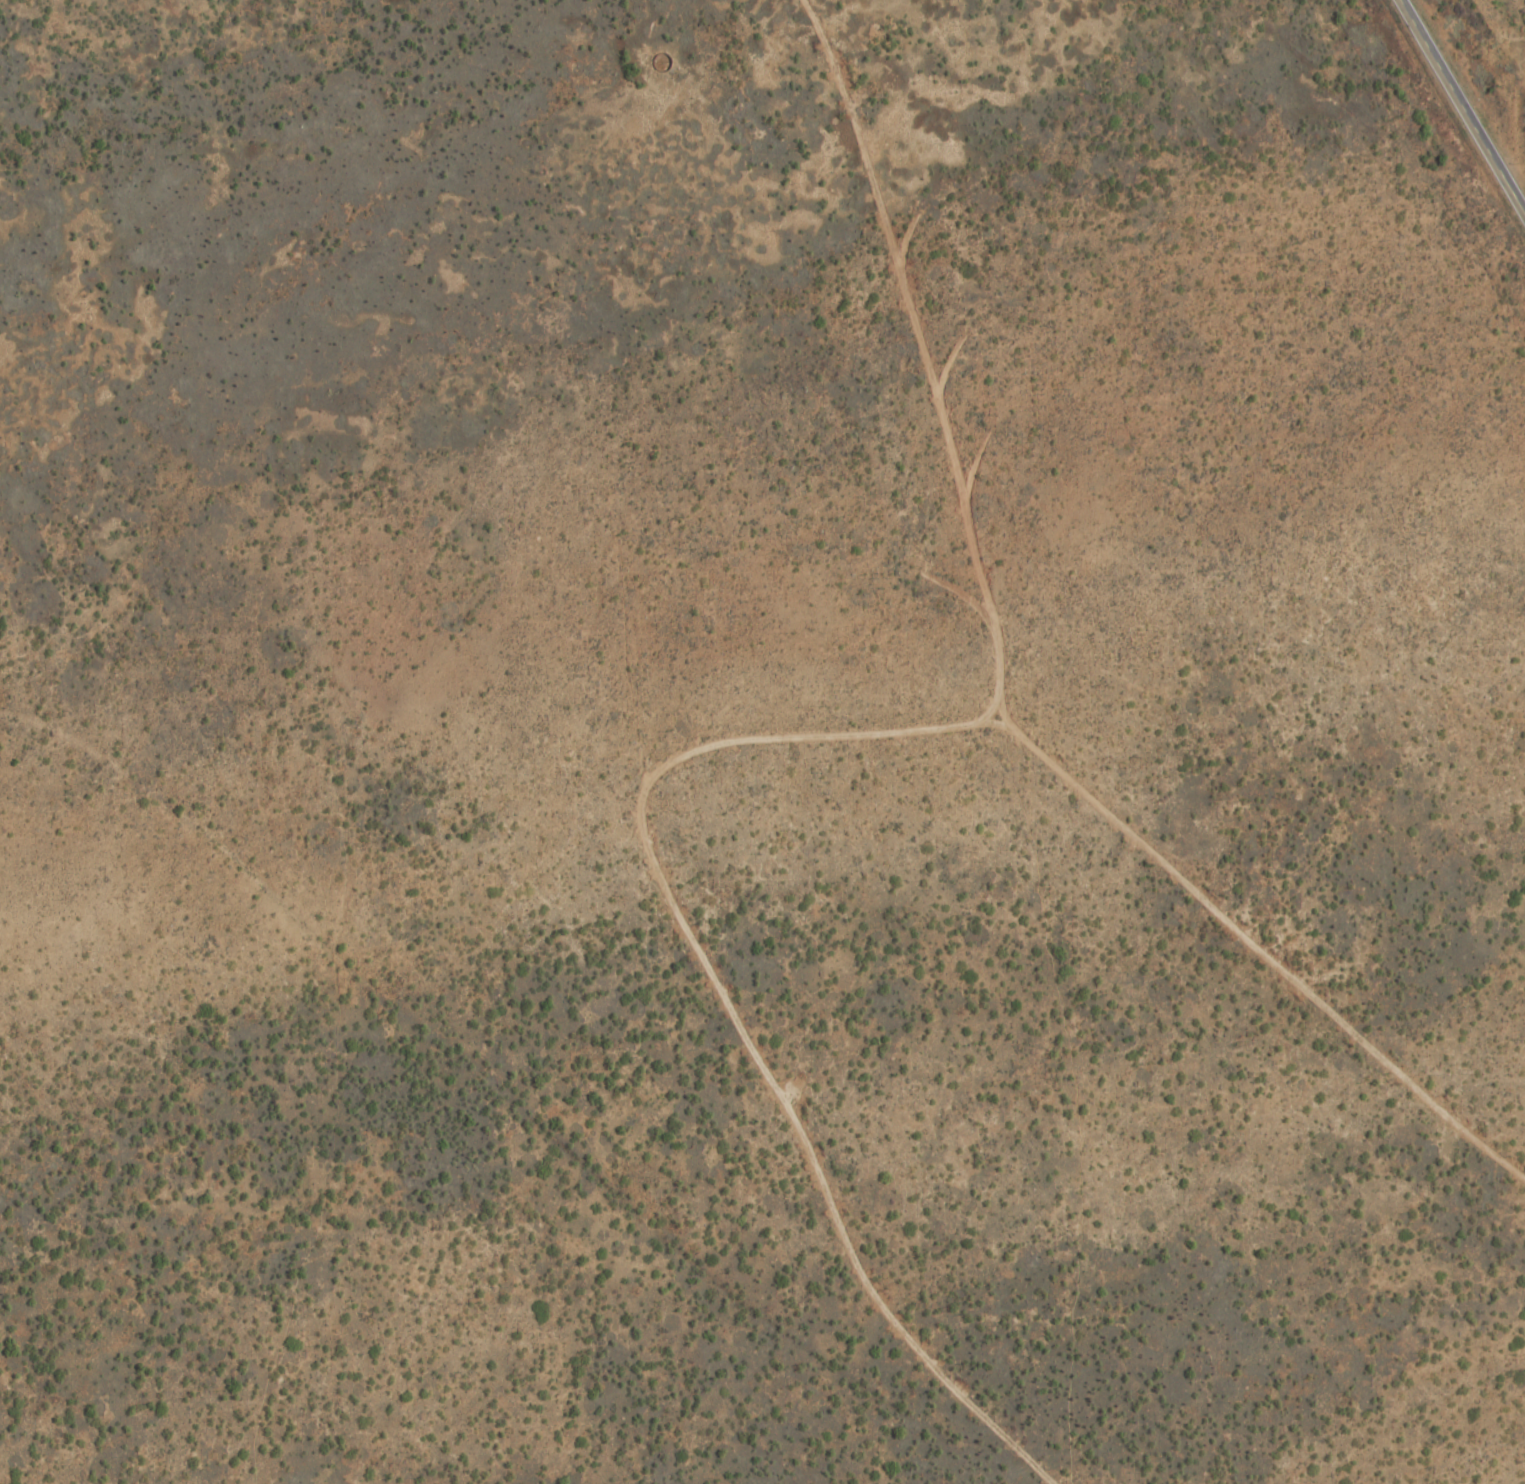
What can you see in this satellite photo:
road: (1461, 108)

